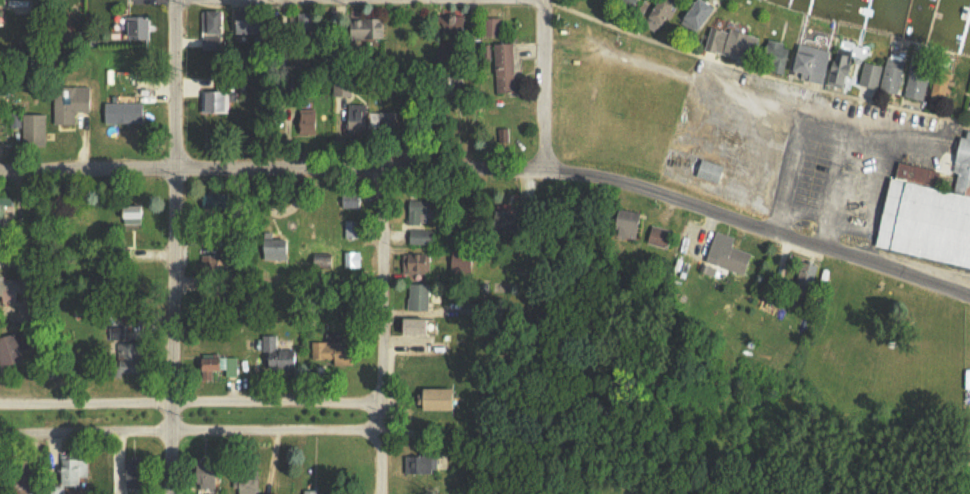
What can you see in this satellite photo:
building: (633, 2)
building: (665, 10)
building: (702, 14)
building: (216, 22)
building: (254, 26)
building: (495, 26)
building: (138, 27)
building: (368, 27)
road: (543, 37)
building: (213, 42)
building: (734, 43)
road: (658, 44)
building: (778, 51)
building: (813, 63)
building: (508, 68)
building: (841, 68)
building: (872, 74)
building: (895, 75)
building: (919, 81)
building: (4, 88)
building: (943, 89)
building: (218, 98)
building: (72, 103)
building: (125, 112)
road: (543, 122)
building: (37, 127)
building: (711, 171)
road: (494, 172)
building: (352, 200)
building: (3, 212)
building: (422, 212)
building: (927, 212)
building: (632, 227)
building: (353, 229)
building: (424, 236)
building: (660, 237)
road: (175, 247)
building: (281, 249)
building: (726, 255)
building: (354, 259)
building: (209, 261)
building: (417, 263)
building: (14, 288)
building: (419, 297)
building: (470, 307)
building: (30, 314)
building: (421, 326)
road: (377, 332)
building: (14, 347)
building: (330, 351)
building: (279, 355)
building: (129, 358)
building: (220, 363)
building: (442, 399)
road: (191, 406)
road: (193, 433)
building: (422, 463)
building: (78, 472)
building: (138, 473)
building: (211, 476)
building: (248, 485)
building: (320, 493)

